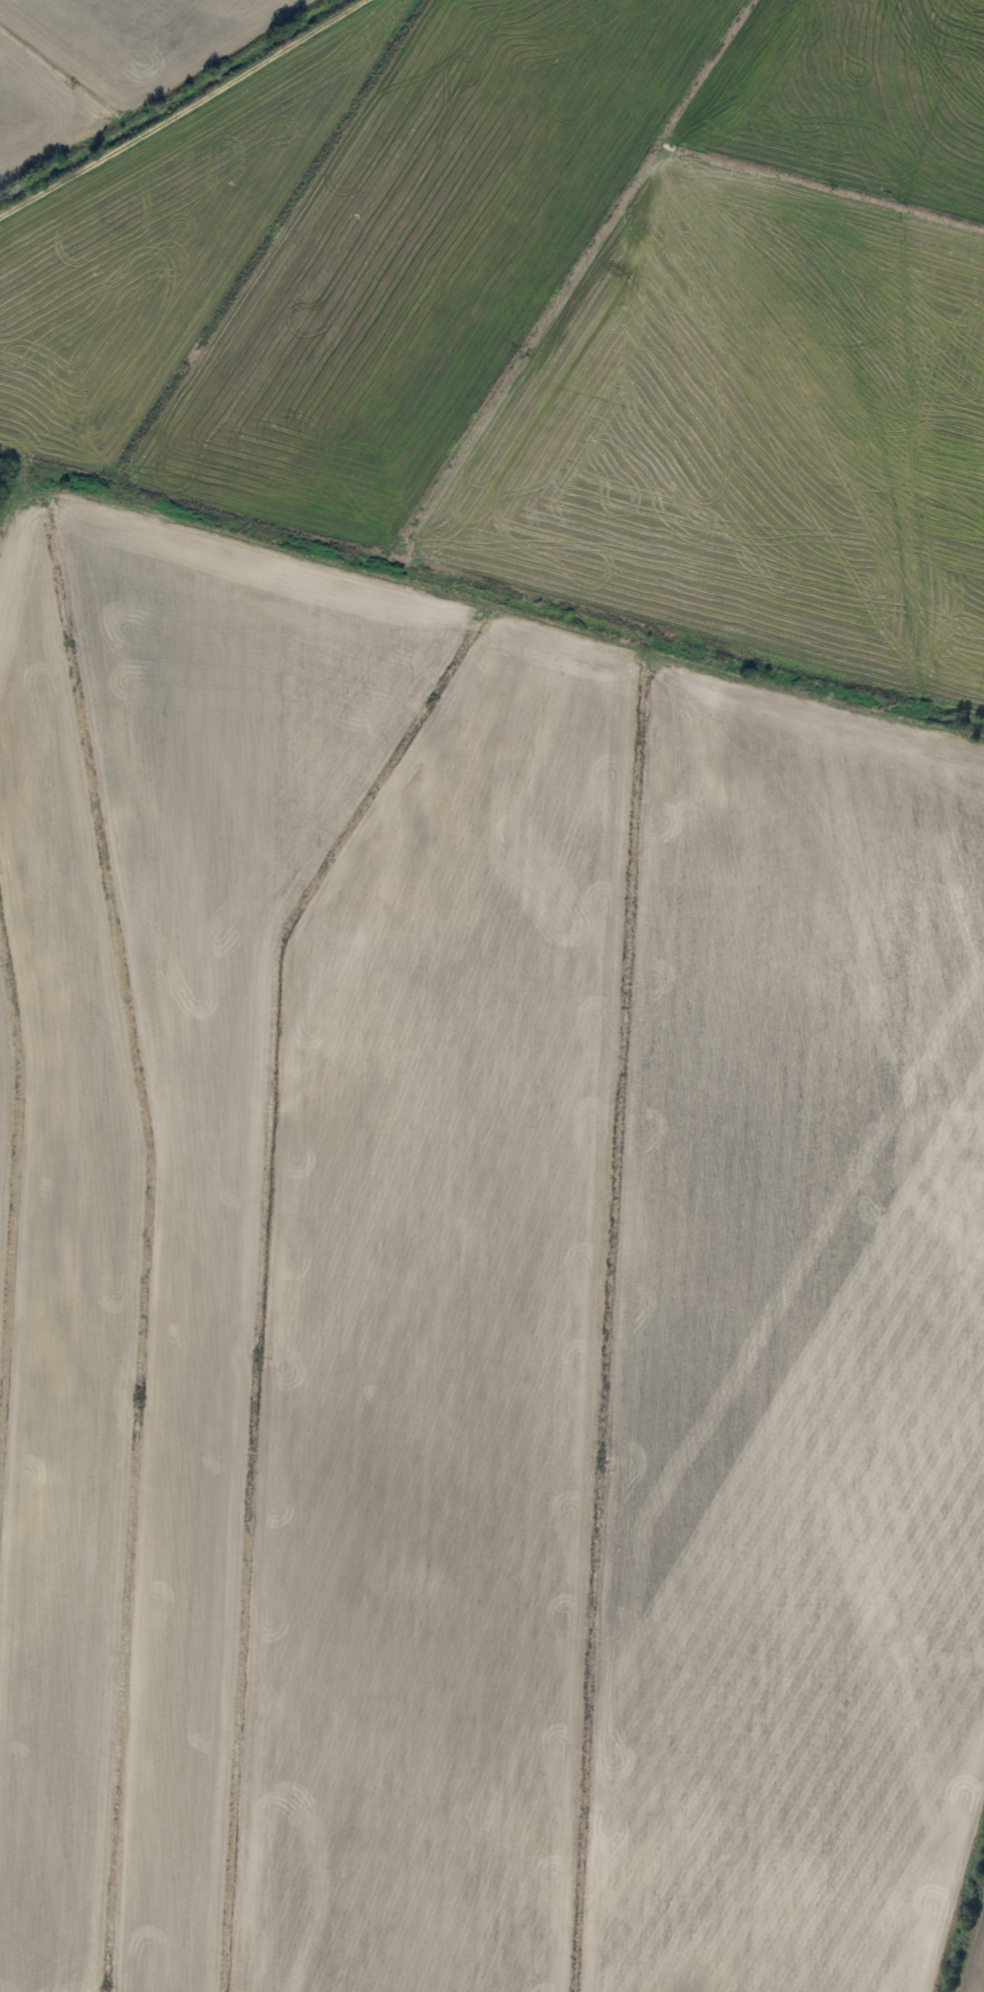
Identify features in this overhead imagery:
road: (181, 111)

